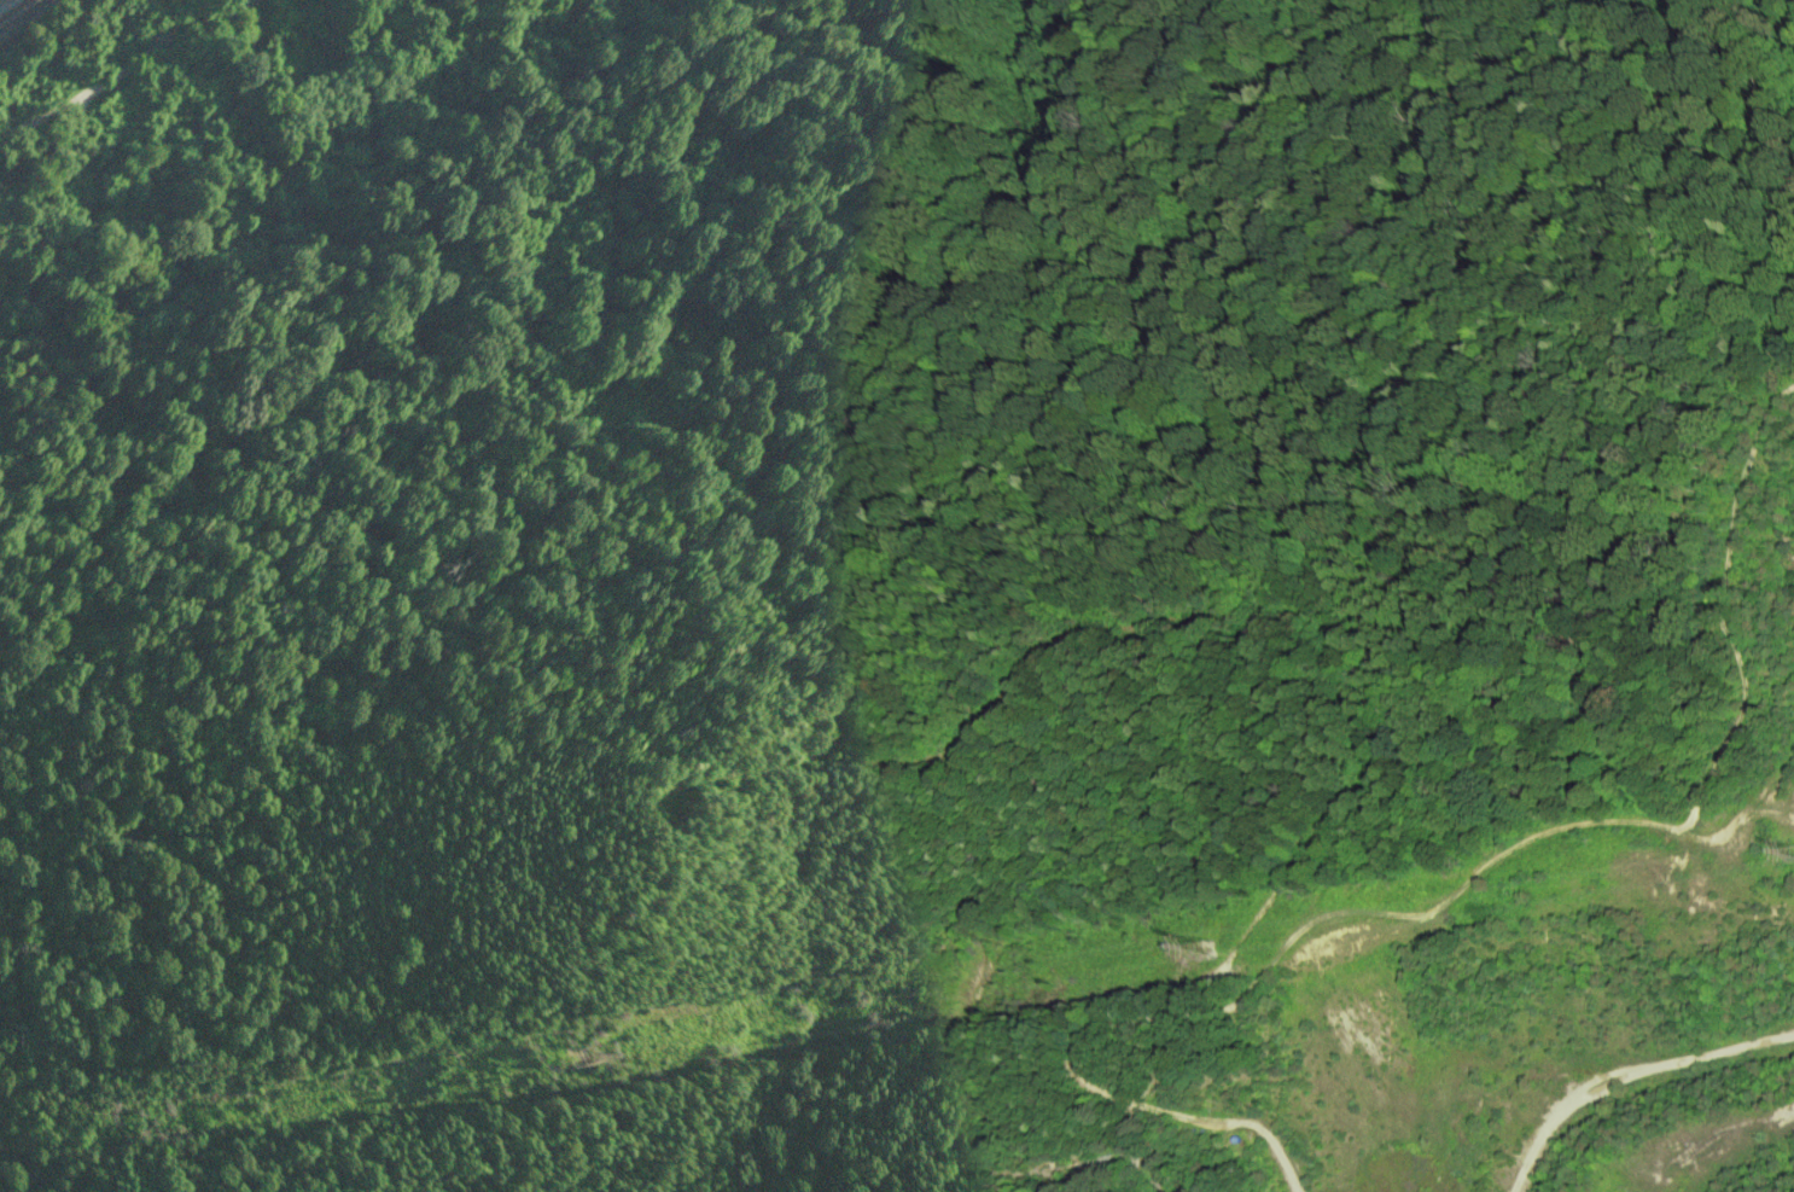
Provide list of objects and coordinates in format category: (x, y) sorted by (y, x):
railway: (10, 6)
railway: (19, 12)
road: (124, 72)
power tower: (1207, 948)
power tower: (567, 1059)

